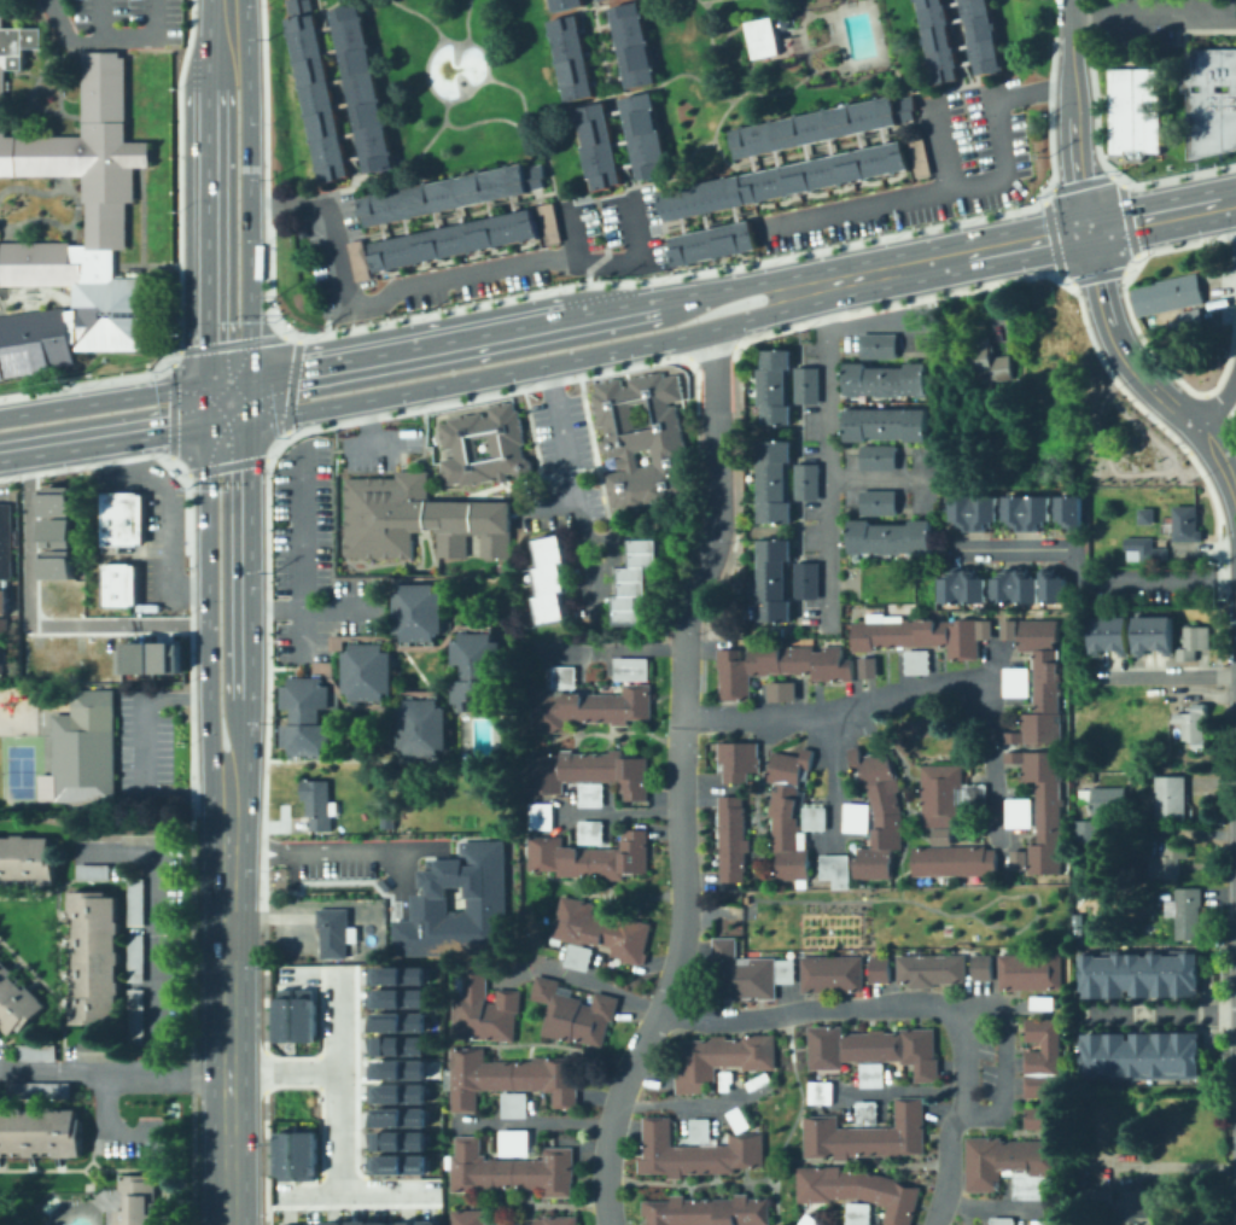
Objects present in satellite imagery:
building: (597, 0)
building: (562, 2)
building: (297, 6)
road: (211, 13)
parking lot: (129, 14)
road: (1154, 14)
road: (1072, 17)
road: (105, 21)
building: (980, 35)
building: (762, 36)
building: (937, 40)
road: (112, 41)
building: (634, 46)
building: (572, 58)
road: (62, 80)
road: (37, 83)
building: (361, 89)
road: (1048, 91)
road: (1032, 92)
road: (1092, 95)
building: (317, 98)
building: (1208, 103)
road: (57, 112)
building: (1130, 113)
building: (823, 127)
road: (1074, 134)
building: (646, 136)
road: (940, 142)
building: (597, 145)
building: (916, 156)
road: (266, 169)
road: (245, 170)
building: (68, 171)
road: (177, 175)
road: (1171, 176)
building: (786, 181)
road: (1077, 181)
road: (931, 193)
building: (453, 194)
road: (210, 205)
road: (1131, 217)
road: (629, 221)
building: (547, 222)
traffic signals: (1086, 232)
road: (142, 233)
road: (571, 233)
road: (1053, 234)
road: (1235, 234)
building: (453, 241)
road: (1024, 243)
building: (713, 244)
road: (1179, 246)
building: (357, 259)
road: (610, 261)
road: (129, 266)
road: (670, 273)
road: (1097, 275)
road: (760, 280)
building: (1168, 296)
road: (380, 298)
road: (675, 298)
road: (905, 304)
building: (1016, 310)
road: (1232, 319)
traffic signals: (247, 321)
building: (1193, 323)
road: (867, 325)
road: (465, 340)
building: (34, 343)
road: (228, 344)
building: (876, 345)
road: (1120, 345)
road: (718, 348)
road: (246, 361)
road: (554, 361)
building: (986, 362)
road: (1162, 366)
road: (268, 377)
building: (887, 380)
road: (227, 381)
road: (89, 383)
building: (805, 384)
road: (290, 385)
building: (776, 387)
traffic signals: (162, 391)
road: (472, 397)
road: (105, 399)
road: (209, 402)
road: (170, 406)
road: (1218, 410)
traffic signals: (279, 414)
road: (264, 415)
road: (226, 419)
building: (887, 425)
road: (104, 433)
road: (367, 434)
road: (1171, 434)
building: (643, 441)
road: (393, 443)
building: (505, 443)
road: (565, 450)
road: (823, 453)
building: (876, 456)
road: (1222, 459)
road: (94, 461)
road: (226, 466)
road: (879, 477)
road: (717, 480)
building: (806, 480)
building: (776, 483)
road: (1235, 486)
traffic signals: (206, 489)
road: (1, 495)
road: (171, 498)
road: (549, 501)
building: (876, 501)
building: (1018, 512)
building: (1143, 514)
building: (56, 515)
building: (416, 518)
building: (119, 519)
building: (1187, 525)
road: (625, 533)
building: (892, 537)
building: (6, 542)
road: (613, 546)
building: (1147, 549)
road: (299, 552)
road: (582, 553)
road: (240, 564)
building: (58, 566)
building: (553, 578)
building: (805, 578)
building: (776, 579)
road: (1084, 579)
building: (640, 582)
building: (121, 584)
building: (1004, 587)
road: (593, 590)
building: (416, 611)
road: (310, 612)
road: (206, 619)
road: (28, 623)
building: (2, 630)
building: (774, 630)
building: (1011, 630)
building: (1153, 635)
building: (921, 636)
building: (1109, 636)
road: (190, 642)
building: (1194, 643)
road: (617, 648)
building: (134, 657)
building: (167, 657)
building: (917, 663)
road: (991, 665)
building: (776, 666)
building: (865, 666)
building: (366, 670)
building: (477, 670)
building: (632, 670)
road: (681, 672)
road: (1155, 675)
road: (266, 682)
building: (1018, 682)
building: (1042, 686)
building: (779, 690)
road: (905, 694)
building: (587, 704)
building: (307, 713)
road: (142, 718)
building: (1195, 725)
building: (421, 727)
building: (83, 752)
building: (739, 762)
park: (19, 769)
park: (18, 770)
building: (590, 775)
road: (832, 775)
road: (233, 782)
building: (949, 795)
building: (1172, 798)
building: (1106, 800)
building: (320, 805)
building: (1044, 807)
road: (620, 811)
building: (880, 813)
building: (1020, 813)
building: (793, 815)
building: (542, 816)
building: (856, 818)
road: (1171, 829)
building: (1088, 832)
building: (593, 833)
building: (101, 834)
building: (146, 835)
building: (734, 840)
road: (308, 852)
building: (591, 857)
building: (954, 859)
building: (28, 861)
building: (1020, 862)
building: (1166, 862)
building: (836, 870)
building: (95, 873)
building: (138, 903)
building: (455, 904)
building: (1189, 914)
road: (154, 927)
building: (337, 932)
building: (599, 934)
building: (97, 958)
building: (138, 958)
parking lot: (156, 958)
building: (983, 968)
building: (880, 969)
building: (932, 970)
building: (1031, 972)
building: (1090, 972)
building: (747, 973)
building: (1112, 973)
building: (1138, 973)
road: (309, 974)
building: (1164, 974)
building: (1187, 974)
building: (397, 975)
building: (833, 975)
road: (670, 978)
road: (582, 979)
building: (396, 997)
road: (915, 1002)
building: (17, 1003)
building: (1043, 1003)
building: (483, 1010)
road: (1158, 1011)
building: (575, 1013)
building: (282, 1015)
building: (304, 1015)
building: (138, 1017)
road: (227, 1020)
building: (398, 1021)
building: (0, 1038)
building: (397, 1045)
building: (1040, 1045)
building: (874, 1049)
road: (1001, 1051)
building: (101, 1052)
building: (36, 1054)
building: (1090, 1055)
building: (1113, 1055)
building: (1139, 1055)
building: (1165, 1055)
building: (1187, 1055)
building: (723, 1058)
parking lot: (985, 1063)
building: (397, 1069)
road: (113, 1071)
road: (284, 1071)
building: (873, 1075)
building: (512, 1078)
building: (727, 1081)
road: (340, 1085)
building: (760, 1085)
road: (902, 1090)
building: (40, 1092)
building: (396, 1092)
building: (821, 1092)
building: (1040, 1101)
road: (681, 1102)
building: (515, 1106)
building: (868, 1113)
building: (397, 1116)
building: (740, 1121)
road: (532, 1122)
building: (700, 1130)
building: (42, 1132)
building: (868, 1136)
building: (397, 1139)
road: (130, 1143)
building: (515, 1143)
building: (696, 1153)
building: (282, 1154)
building: (305, 1154)
building: (396, 1163)
building: (1014, 1166)
building: (512, 1171)
building: (859, 1190)
road: (358, 1195)
building: (141, 1202)
building: (1123, 1203)
road: (997, 1207)
road: (86, 1208)
building: (709, 1212)
building: (858, 1214)
building: (468, 1217)
building: (559, 1220)
building: (809, 1221)
building: (1003, 1221)
building: (331, 1223)
building: (356, 1223)
building: (379, 1223)
building: (403, 1223)
building: (426, 1223)
building: (1045, 1223)
building: (0, 1224)
building: (287, 1224)
building: (311, 1224)

